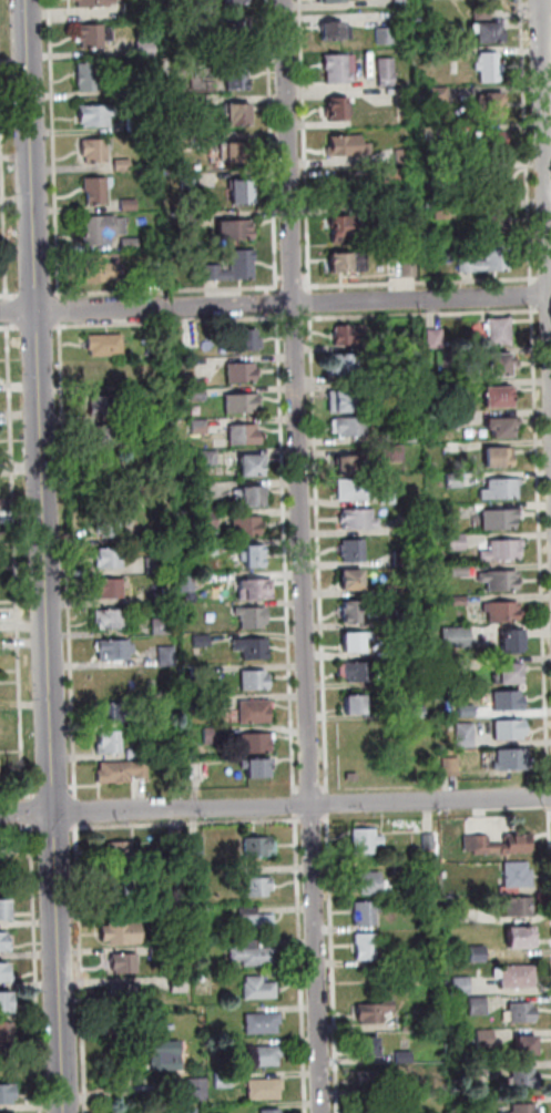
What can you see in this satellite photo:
building: (333, 2)
building: (95, 3)
building: (237, 3)
building: (402, 3)
building: (204, 10)
road: (524, 10)
building: (136, 11)
building: (484, 11)
building: (202, 28)
building: (338, 33)
building: (488, 34)
building: (241, 35)
building: (388, 37)
building: (95, 38)
building: (147, 49)
building: (490, 68)
building: (340, 70)
building: (388, 73)
building: (239, 78)
building: (90, 79)
building: (122, 91)
building: (441, 94)
building: (173, 102)
road: (548, 102)
building: (493, 106)
building: (343, 110)
building: (239, 115)
building: (99, 118)
building: (141, 125)
road: (529, 139)
road: (274, 143)
road: (307, 143)
building: (488, 144)
road: (55, 146)
building: (347, 147)
building: (96, 152)
building: (238, 154)
road: (4, 156)
building: (404, 157)
building: (124, 166)
building: (395, 176)
building: (191, 181)
building: (493, 183)
building: (348, 191)
building: (98, 192)
building: (245, 195)
building: (131, 205)
building: (443, 211)
building: (392, 213)
building: (492, 223)
building: (104, 231)
building: (348, 231)
building: (237, 232)
building: (132, 245)
building: (489, 261)
building: (350, 265)
building: (245, 266)
building: (410, 268)
building: (101, 270)
building: (218, 274)
building: (156, 278)
road: (422, 283)
road: (295, 286)
road: (170, 289)
road: (40, 293)
road: (10, 295)
road: (533, 295)
road: (278, 302)
road: (275, 303)
road: (313, 303)
road: (424, 315)
road: (297, 317)
road: (172, 321)
building: (501, 334)
building: (351, 336)
building: (437, 340)
building: (194, 341)
building: (252, 341)
building: (108, 347)
building: (451, 359)
building: (344, 369)
building: (500, 369)
building: (244, 375)
building: (200, 396)
building: (499, 400)
building: (344, 404)
building: (245, 405)
building: (105, 407)
building: (159, 412)
building: (455, 421)
building: (201, 428)
building: (354, 429)
building: (502, 429)
building: (106, 437)
building: (247, 437)
building: (410, 437)
building: (157, 440)
building: (456, 448)
building: (396, 453)
building: (502, 458)
building: (211, 459)
building: (349, 466)
building: (254, 469)
building: (109, 470)
building: (152, 476)
building: (457, 480)
building: (504, 489)
building: (204, 490)
building: (356, 490)
building: (252, 499)
building: (391, 499)
road: (542, 518)
building: (361, 519)
building: (501, 520)
building: (212, 521)
building: (409, 527)
building: (113, 528)
building: (247, 528)
building: (154, 538)
building: (458, 542)
building: (213, 549)
building: (356, 550)
building: (503, 550)
road: (288, 555)
road: (48, 556)
road: (305, 556)
road: (323, 556)
building: (256, 558)
building: (111, 559)
building: (405, 559)
building: (157, 565)
building: (501, 580)
building: (354, 583)
building: (190, 584)
building: (111, 590)
building: (257, 591)
building: (163, 596)
building: (356, 611)
building: (504, 611)
building: (407, 616)
building: (255, 619)
building: (114, 620)
building: (163, 626)
building: (458, 637)
building: (513, 640)
building: (204, 641)
building: (355, 643)
building: (254, 650)
building: (401, 650)
building: (116, 651)
building: (169, 657)
building: (361, 673)
building: (203, 674)
building: (511, 677)
building: (257, 682)
building: (395, 683)
building: (510, 702)
building: (204, 705)
building: (358, 706)
building: (257, 713)
building: (419, 713)
building: (116, 714)
building: (510, 729)
building: (215, 736)
building: (468, 736)
building: (112, 744)
building: (258, 744)
building: (137, 755)
building: (514, 762)
building: (197, 769)
building: (258, 770)
building: (123, 773)
road: (300, 790)
road: (314, 790)
road: (327, 790)
road: (297, 804)
road: (330, 804)
road: (275, 806)
road: (79, 817)
road: (314, 819)
road: (328, 819)
road: (190, 824)
road: (65, 827)
building: (177, 837)
building: (367, 843)
building: (430, 843)
building: (500, 846)
building: (201, 847)
building: (262, 847)
building: (3, 852)
building: (125, 852)
building: (404, 868)
building: (155, 875)
building: (519, 876)
building: (261, 887)
building: (375, 887)
building: (124, 892)
building: (521, 909)
building: (251, 911)
building: (456, 912)
building: (368, 913)
building: (6, 915)
building: (161, 915)
building: (259, 923)
building: (123, 936)
building: (521, 941)
building: (4, 944)
building: (368, 949)
building: (161, 951)
building: (256, 954)
building: (480, 954)
road: (303, 962)
road: (335, 963)
building: (126, 964)
road: (83, 967)
building: (6, 974)
building: (203, 977)
building: (520, 979)
building: (181, 982)
building: (462, 986)
building: (262, 989)
building: (126, 993)
building: (7, 1005)
building: (480, 1005)
building: (374, 1008)
building: (522, 1010)
building: (264, 1024)
building: (6, 1034)
building: (486, 1038)
building: (368, 1041)
building: (527, 1041)
building: (166, 1054)
building: (265, 1058)
building: (373, 1076)
building: (524, 1076)
building: (225, 1081)
building: (200, 1089)
building: (267, 1091)
building: (8, 1095)
building: (481, 1099)
building: (374, 1104)
building: (523, 1107)
building: (186, 1110)
building: (273, 1111)

